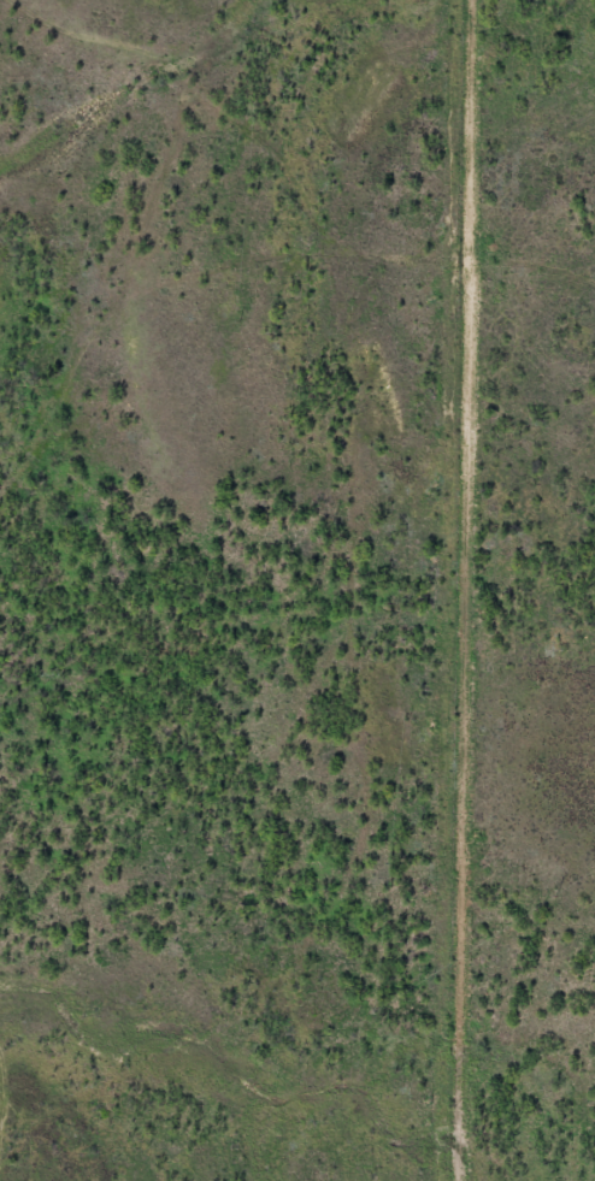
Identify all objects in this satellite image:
road: (119, 223)
road: (17, 1124)

